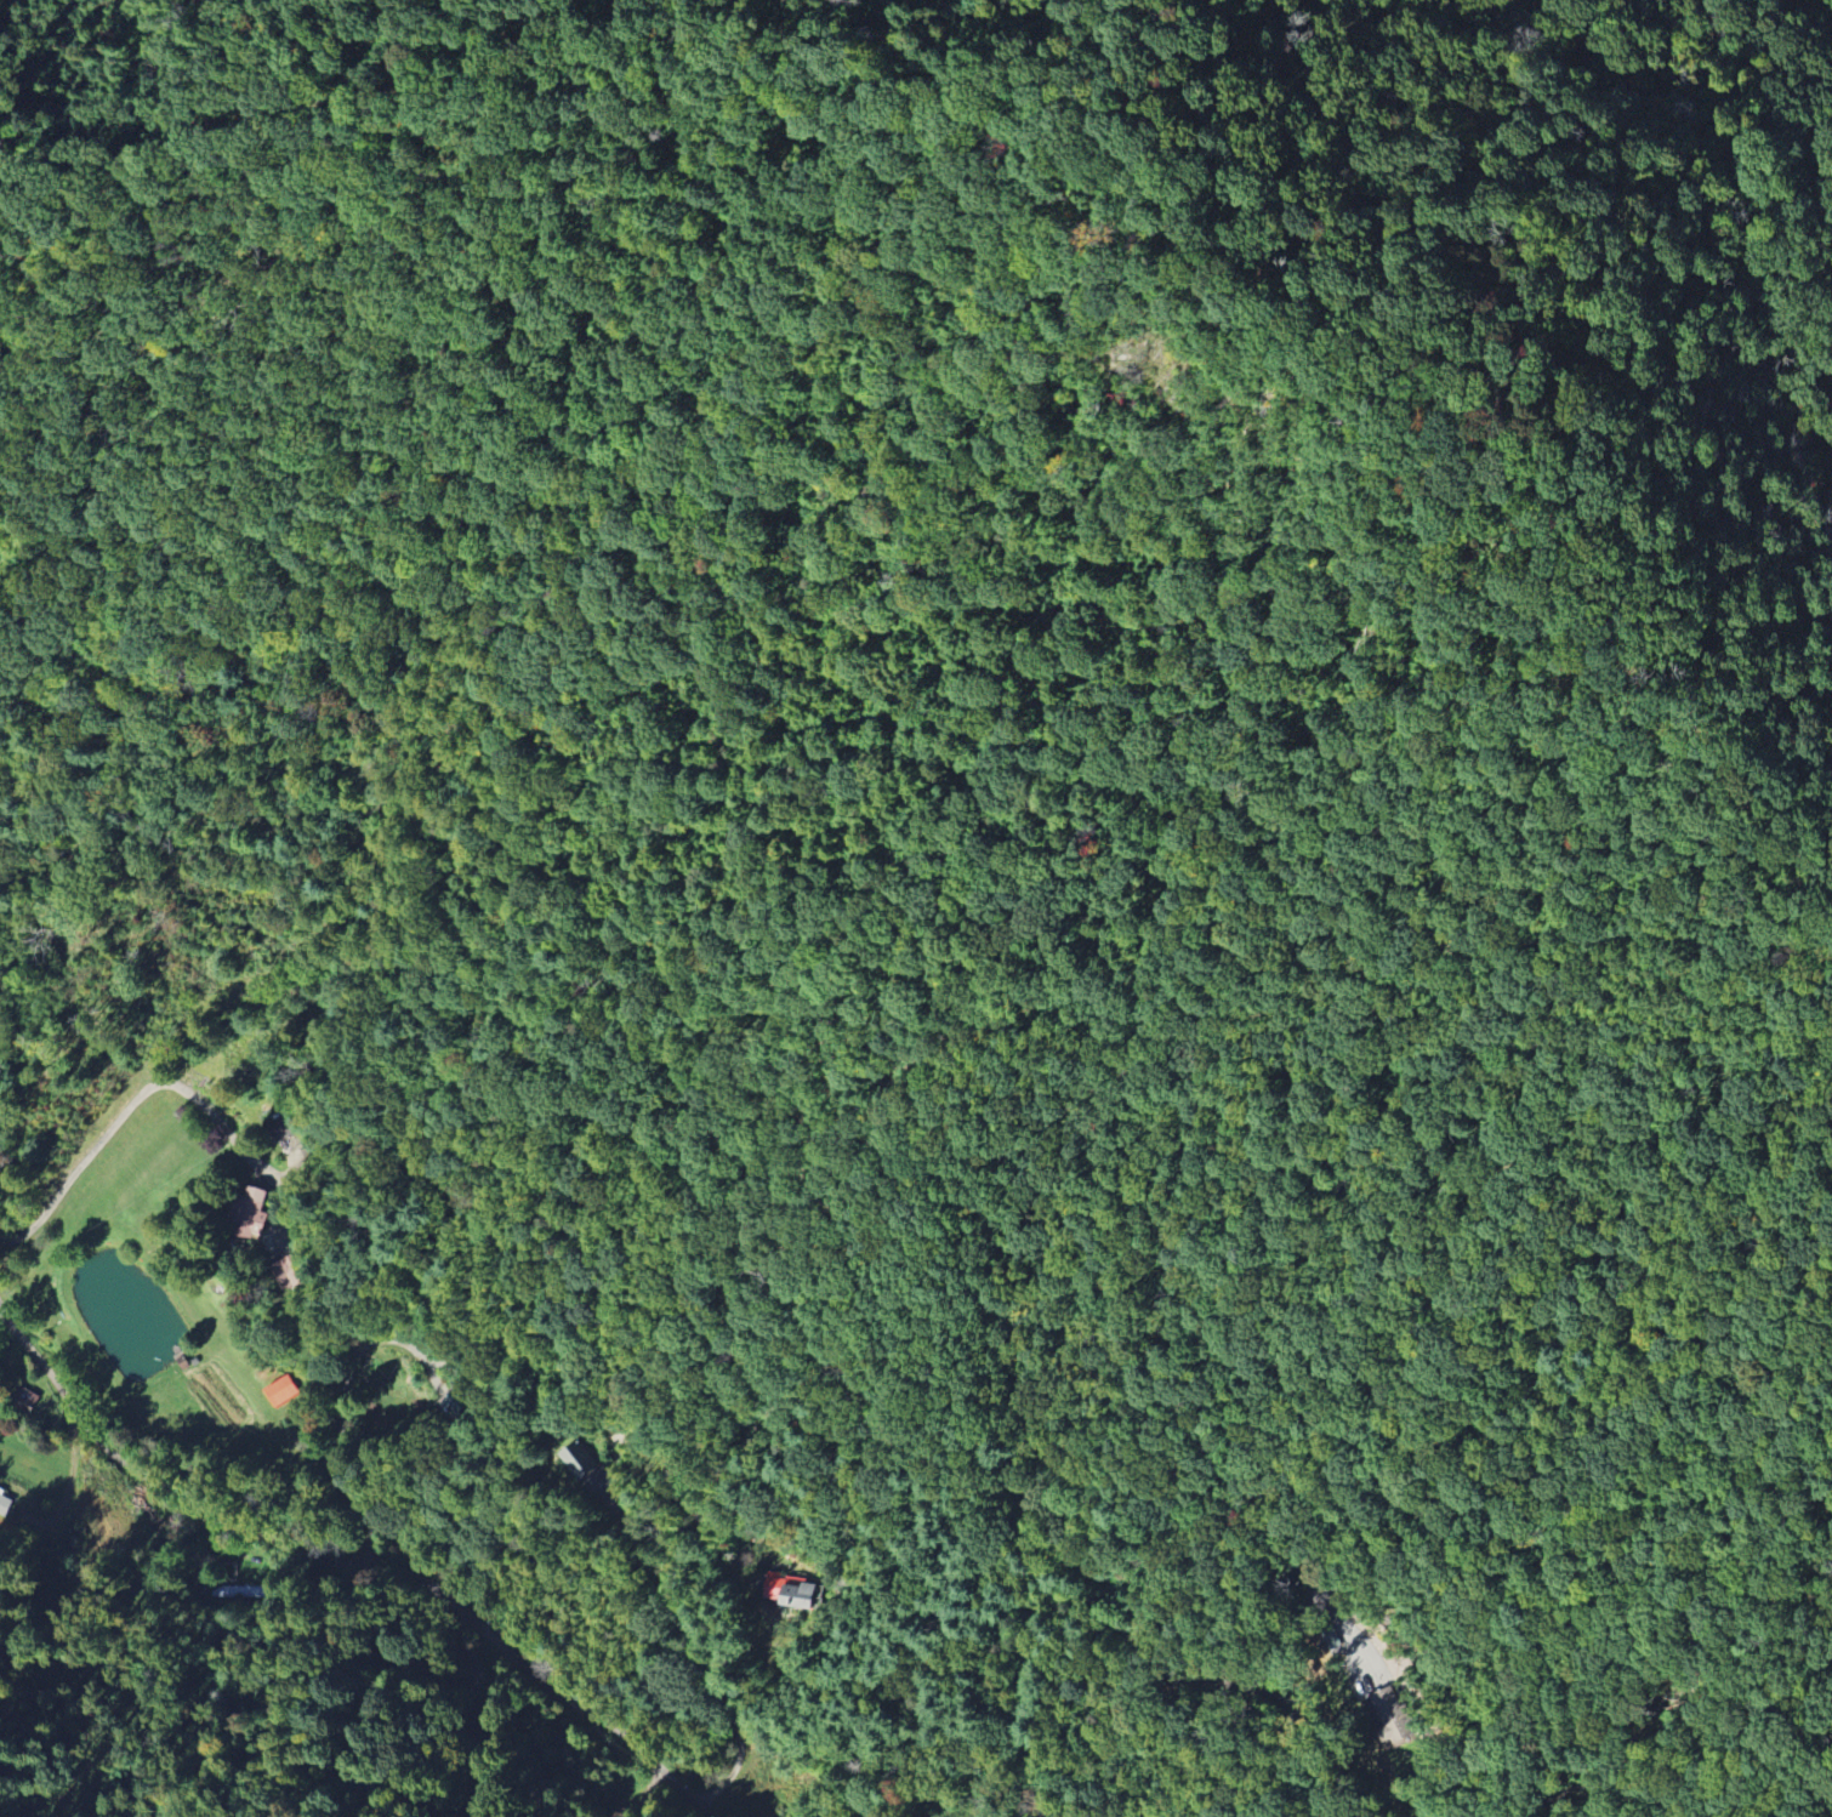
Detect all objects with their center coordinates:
building: (22, 1399)
building: (4, 1504)
road: (341, 1560)
building: (774, 1585)
building: (227, 1591)
road: (1359, 1608)
road: (706, 1658)

